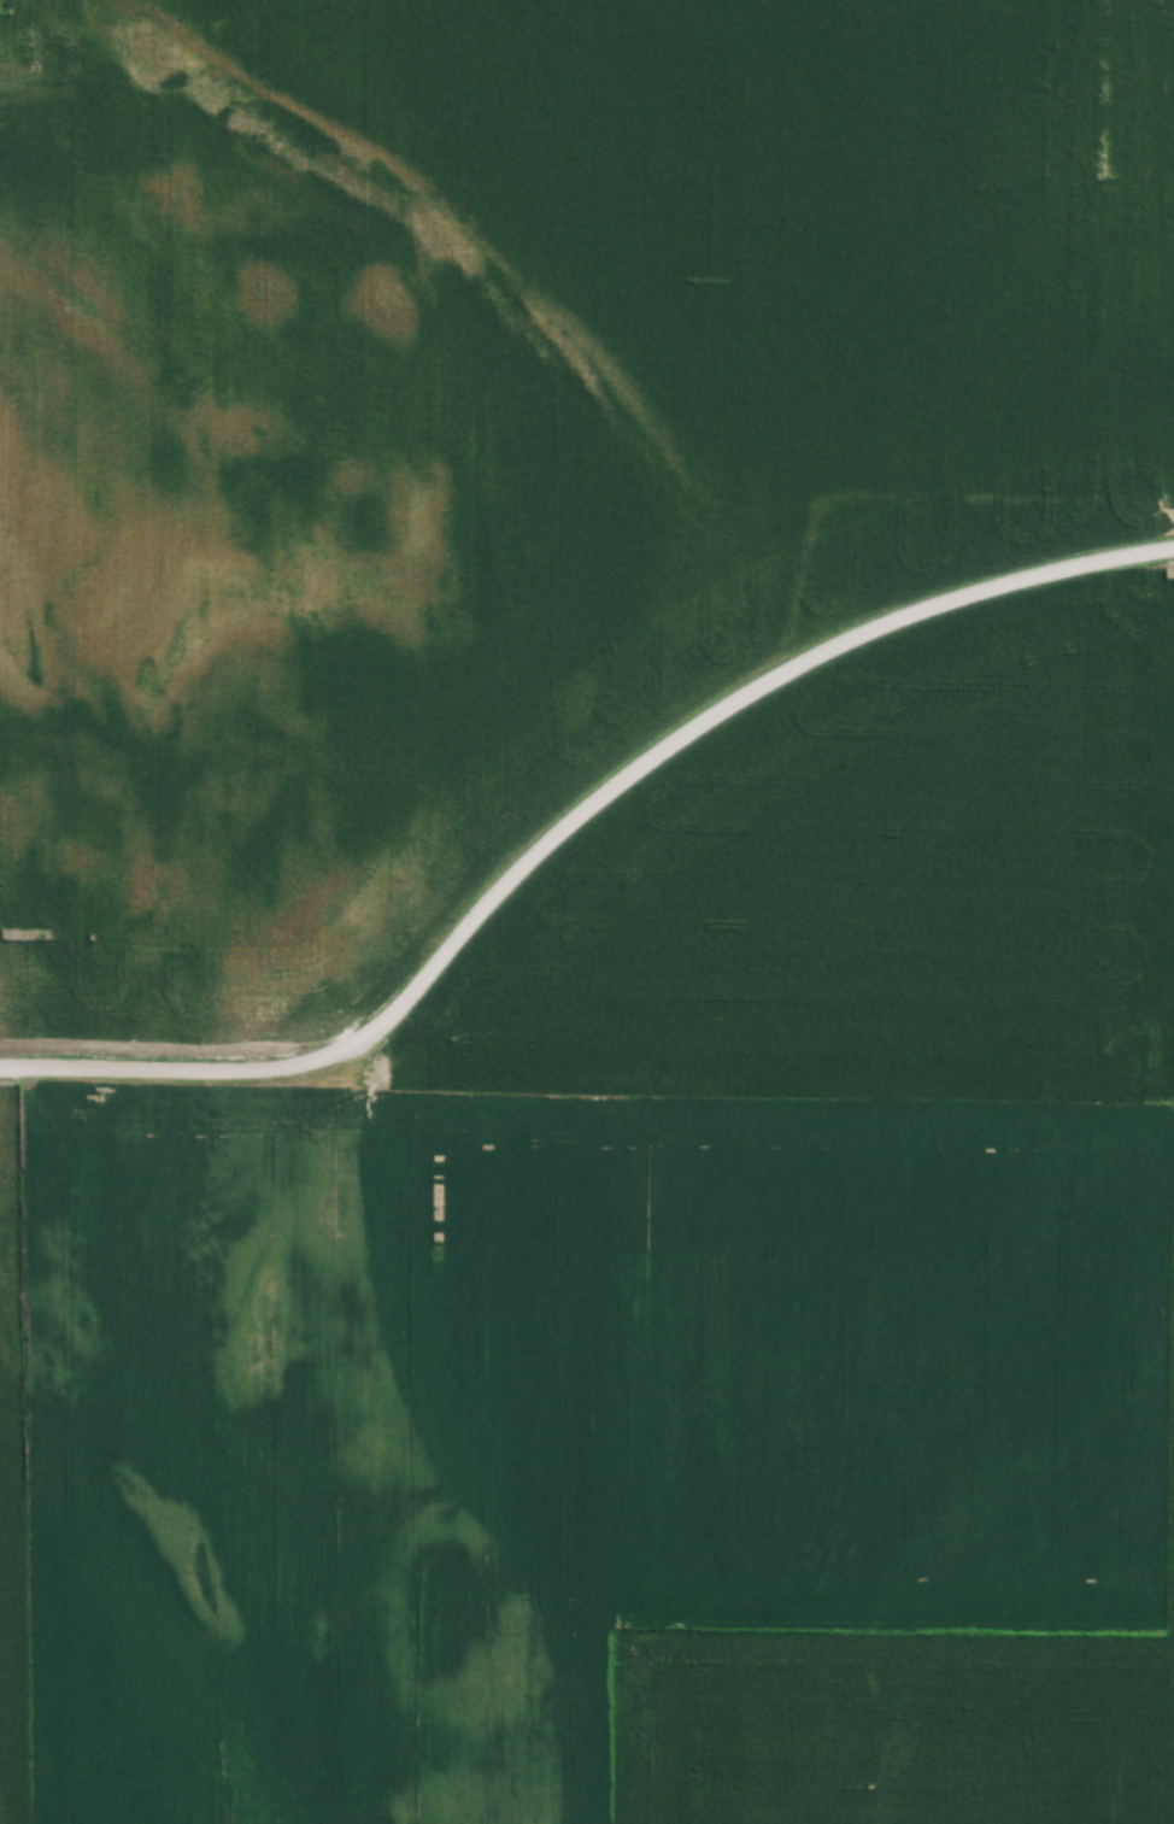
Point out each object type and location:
road: (569, 815)

